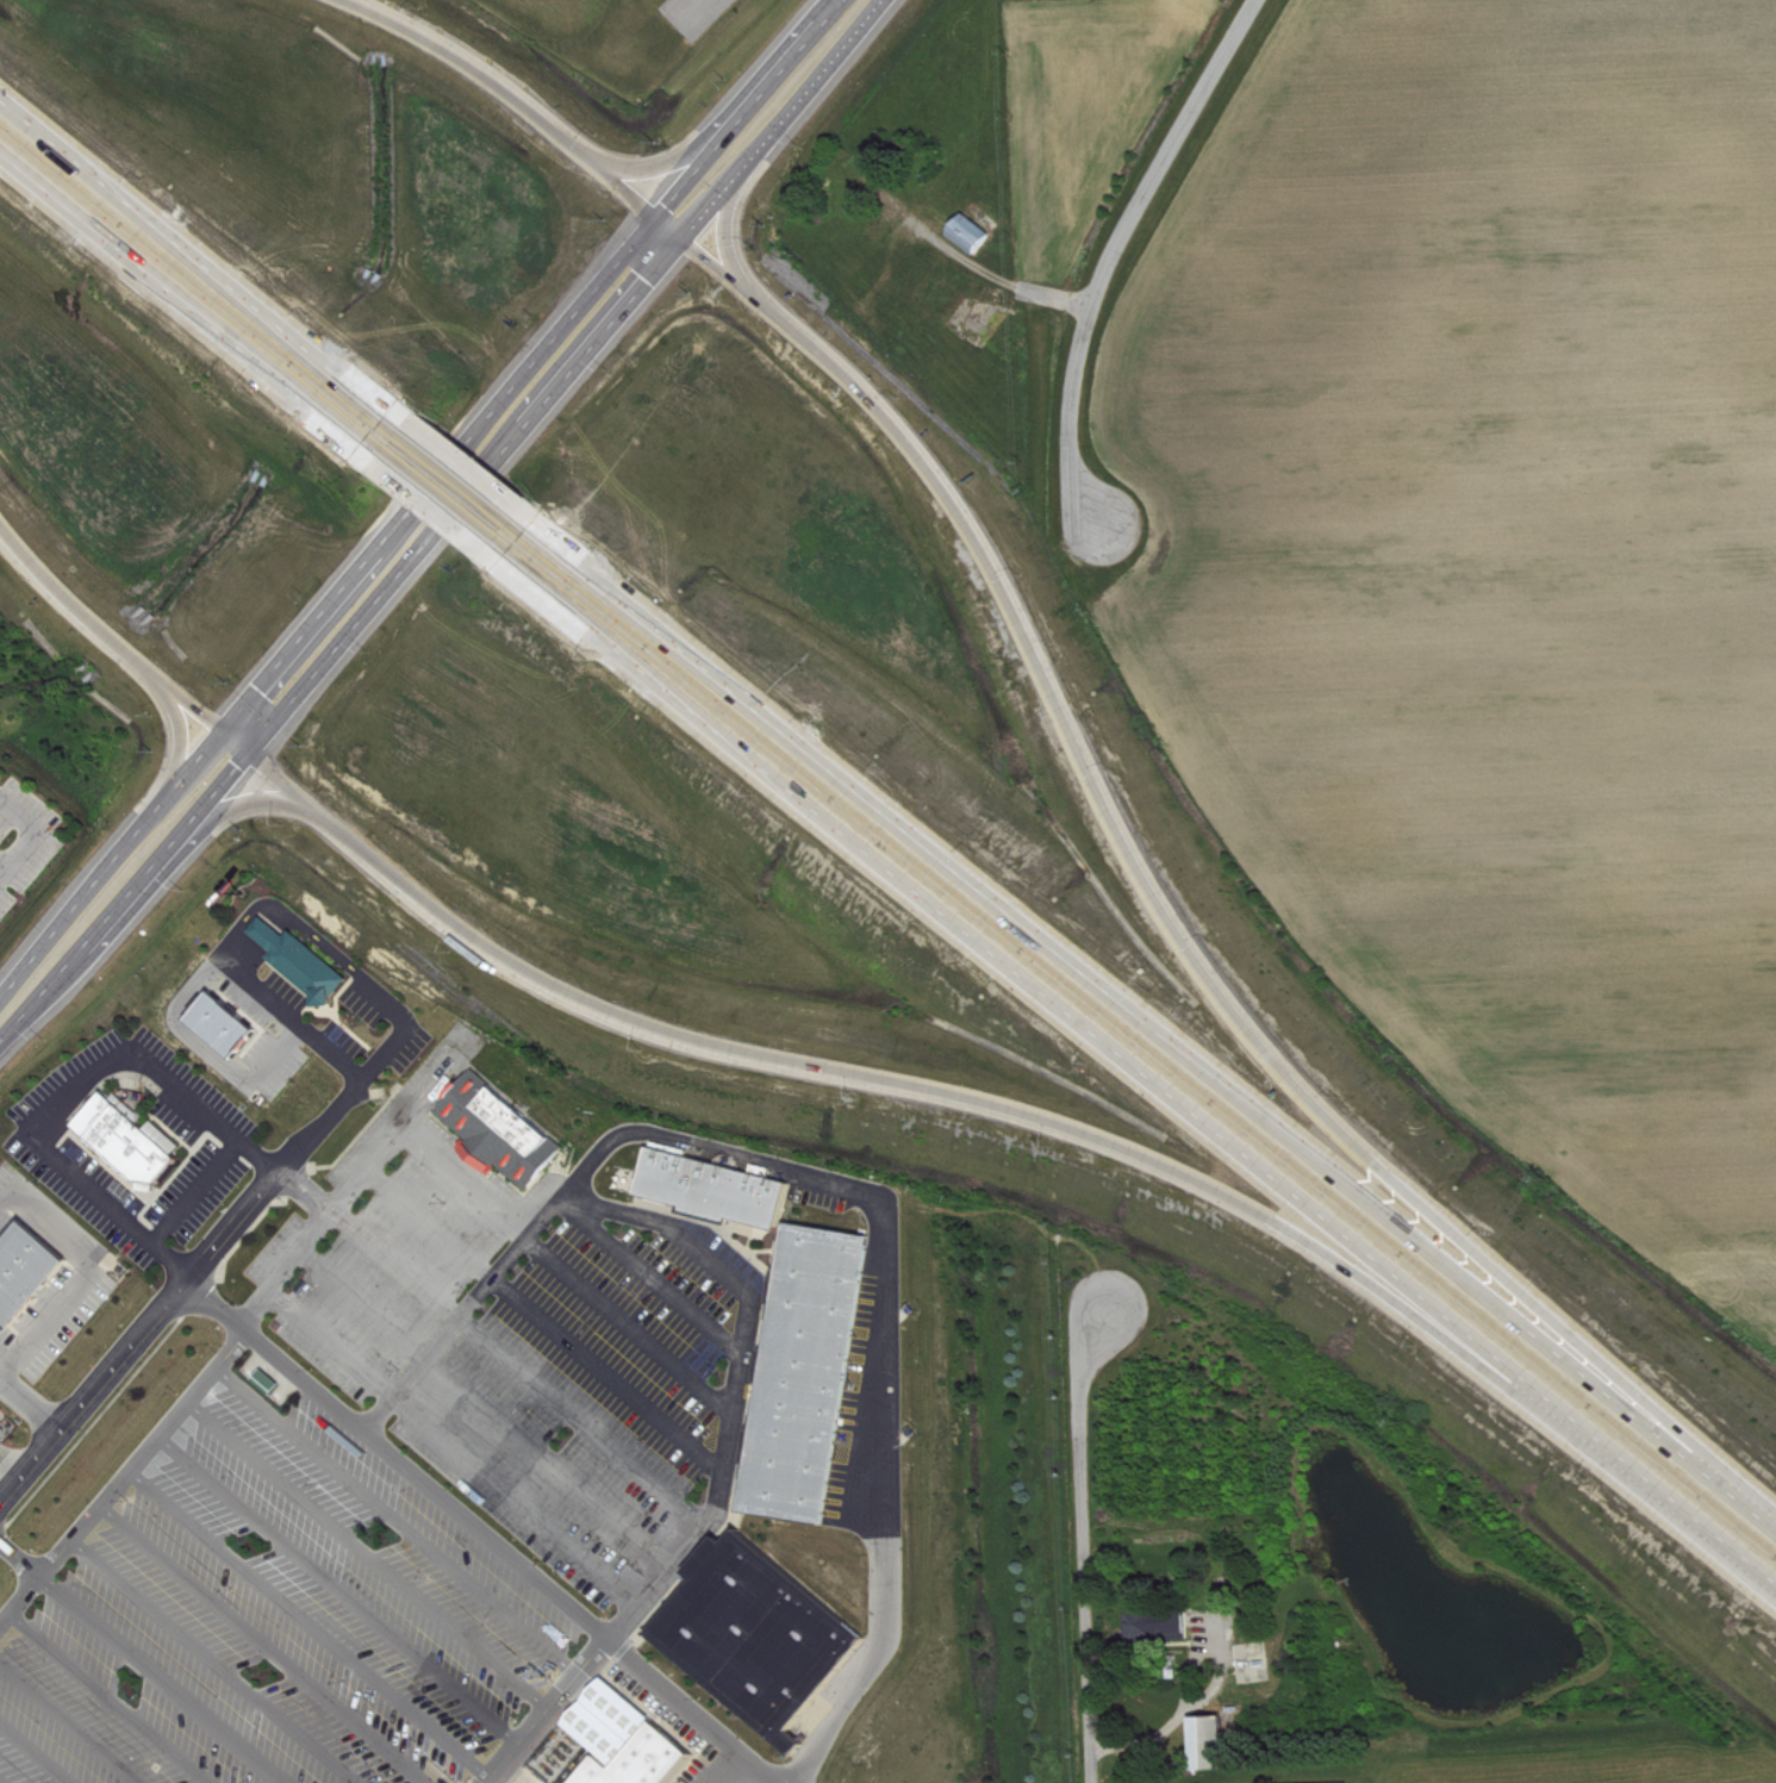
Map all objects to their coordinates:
road: (708, 8)
road: (510, 92)
road: (747, 105)
road: (779, 117)
road: (667, 223)
building: (978, 237)
road: (201, 250)
road: (1122, 250)
road: (999, 280)
road: (188, 287)
road: (509, 439)
road: (471, 468)
road: (437, 475)
road: (448, 493)
crop: (1491, 561)
road: (104, 635)
road: (289, 699)
road: (176, 737)
road: (230, 744)
road: (241, 799)
parking lot: (23, 833)
road: (30, 833)
road: (107, 861)
road: (1, 864)
road: (121, 894)
road: (1166, 911)
road: (283, 912)
road: (272, 914)
road: (279, 918)
road: (286, 923)
road: (258, 925)
road: (266, 931)
road: (272, 936)
road: (245, 946)
road: (237, 947)
road: (249, 950)
building: (298, 959)
parking lot: (261, 993)
road: (289, 1017)
building: (219, 1022)
road: (1157, 1027)
road: (206, 1049)
parking lot: (273, 1060)
road: (1146, 1060)
road: (911, 1086)
road: (64, 1095)
building: (93, 1111)
building: (499, 1126)
building: (132, 1145)
road: (357, 1182)
road: (860, 1184)
building: (713, 1186)
road: (193, 1191)
road: (226, 1233)
building: (24, 1267)
road: (567, 1267)
road: (86, 1270)
road: (652, 1274)
road: (544, 1317)
road: (496, 1344)
building: (805, 1371)
building: (273, 1385)
road: (490, 1403)
road: (29, 1404)
road: (455, 1445)
road: (13, 1458)
road: (723, 1467)
road: (124, 1476)
parking lot: (384, 1489)
road: (398, 1519)
road: (485, 1530)
road: (1083, 1539)
road: (368, 1554)
road: (339, 1588)
road: (311, 1621)
building: (1164, 1629)
building: (755, 1634)
road: (264, 1644)
road: (142, 1660)
road: (216, 1660)
building: (1176, 1670)
road: (1184, 1679)
road: (111, 1697)
road: (70, 1722)
building: (1214, 1746)
road: (35, 1752)
building: (642, 1759)
road: (1, 1782)

